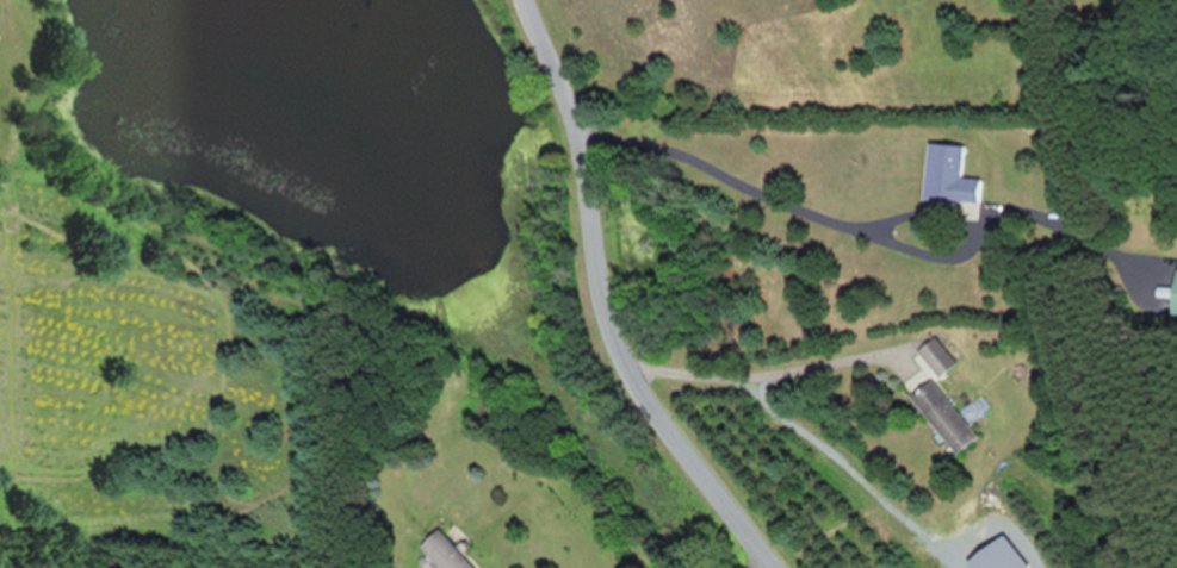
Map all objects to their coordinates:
building: (948, 177)
building: (1173, 287)
road: (606, 304)
building: (935, 355)
road: (758, 369)
building: (941, 413)
building: (442, 551)
road: (757, 566)

